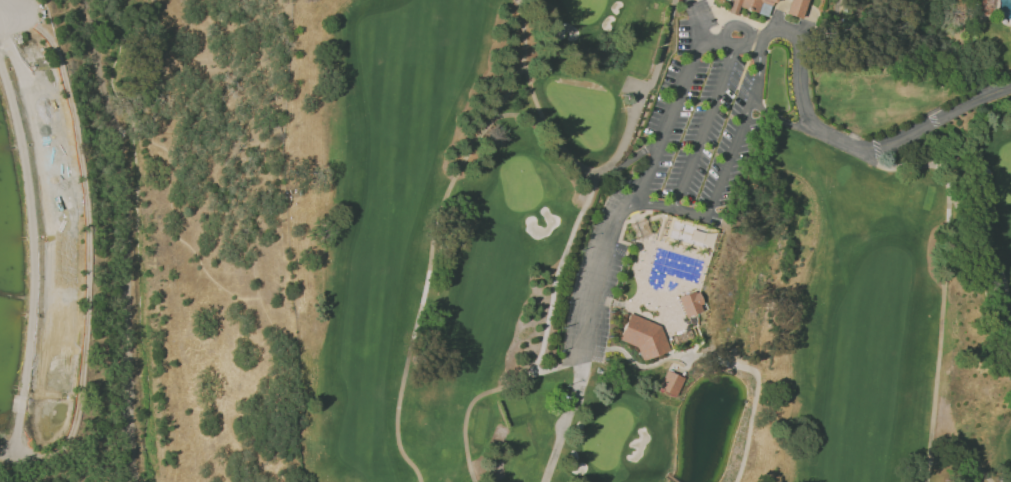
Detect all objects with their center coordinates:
building: (751, 6)
building: (794, 7)
road: (693, 20)
park: (220, 65)
road: (101, 71)
road: (160, 72)
parking lot: (697, 129)
road: (822, 129)
road: (661, 134)
road: (138, 138)
road: (125, 141)
parking lot: (673, 164)
road: (693, 214)
park: (654, 241)
road: (32, 252)
road: (595, 264)
building: (689, 302)
road: (126, 312)
building: (643, 336)
building: (670, 383)

